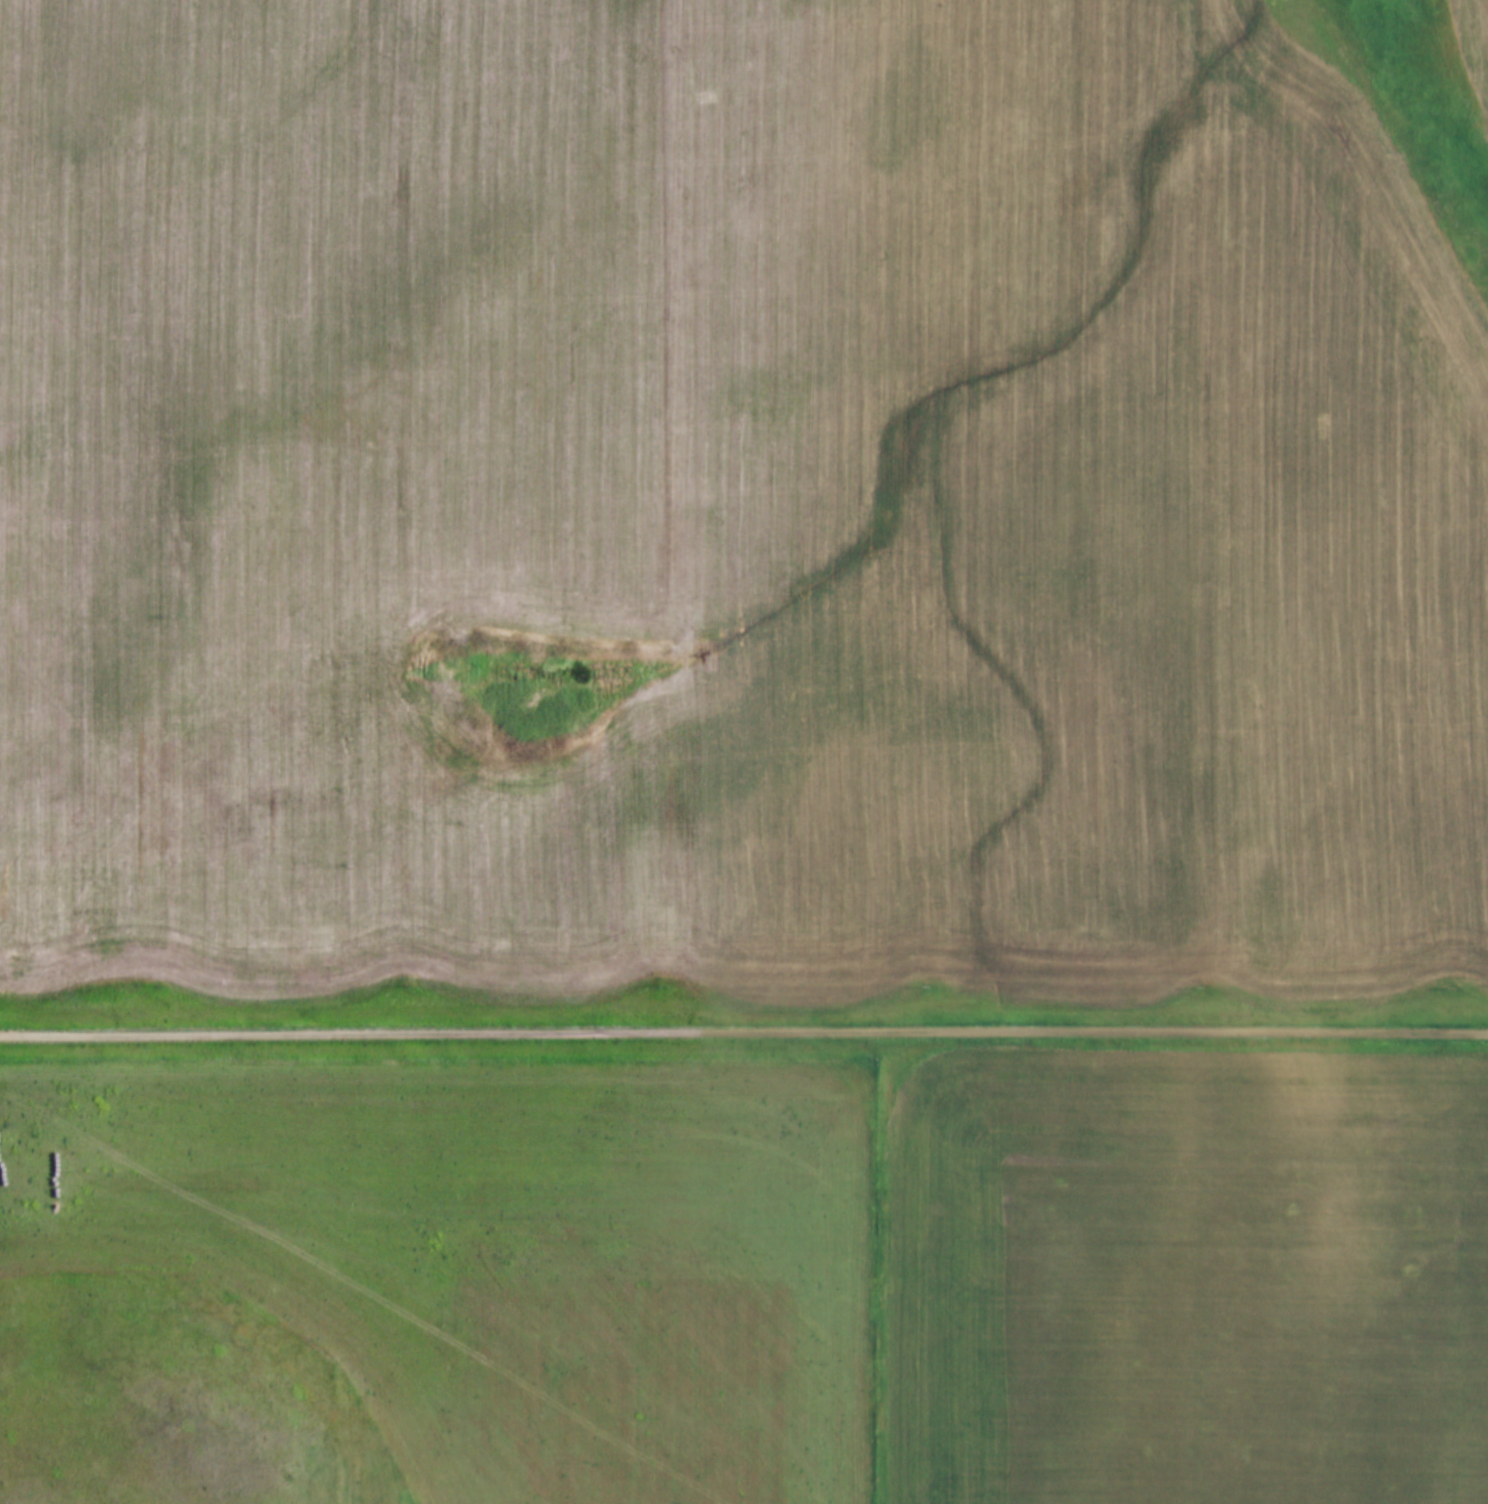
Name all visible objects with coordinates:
road: (743, 1036)

